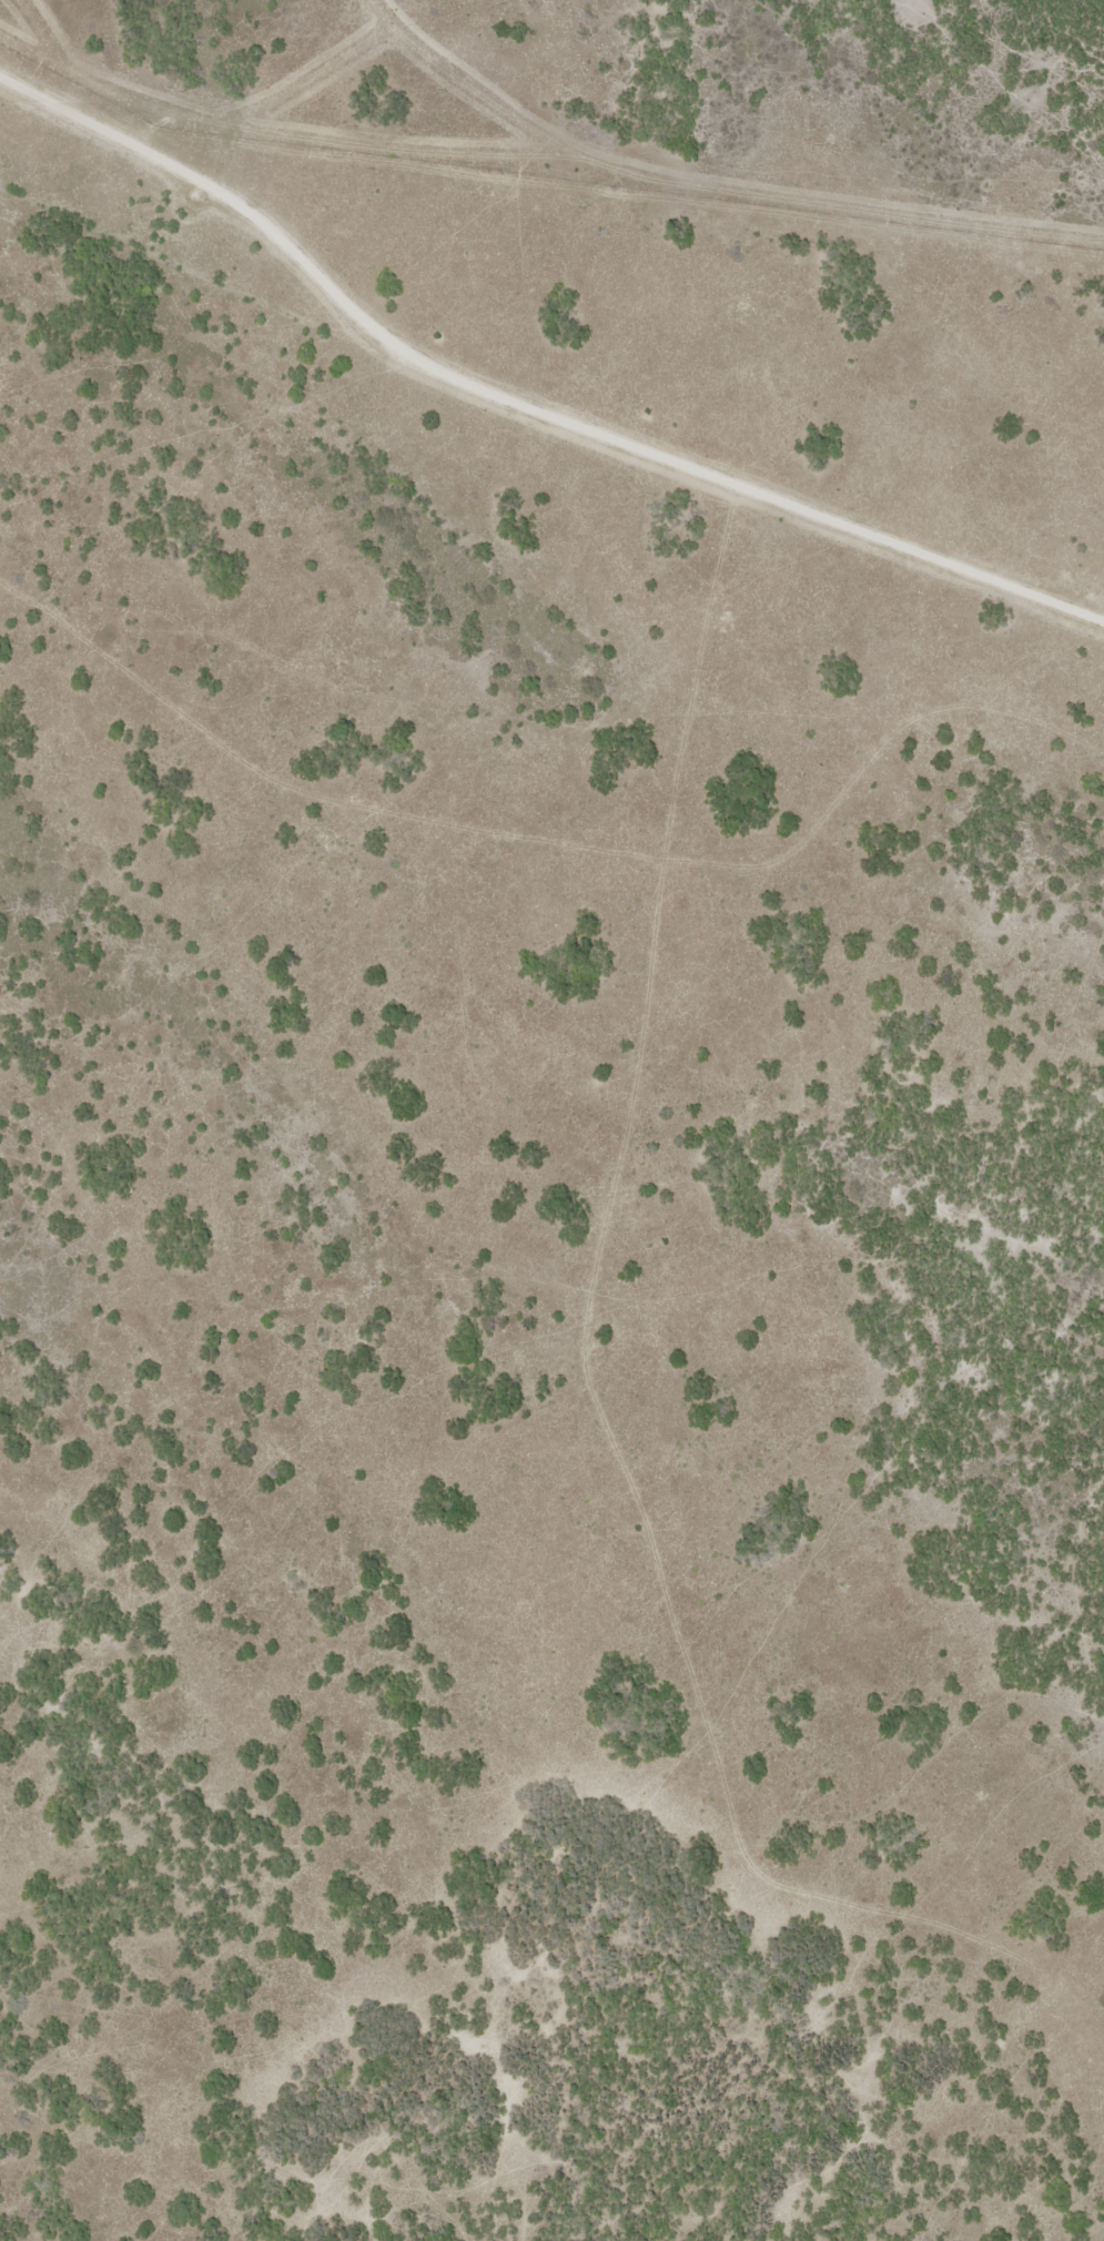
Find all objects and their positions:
road: (538, 391)

